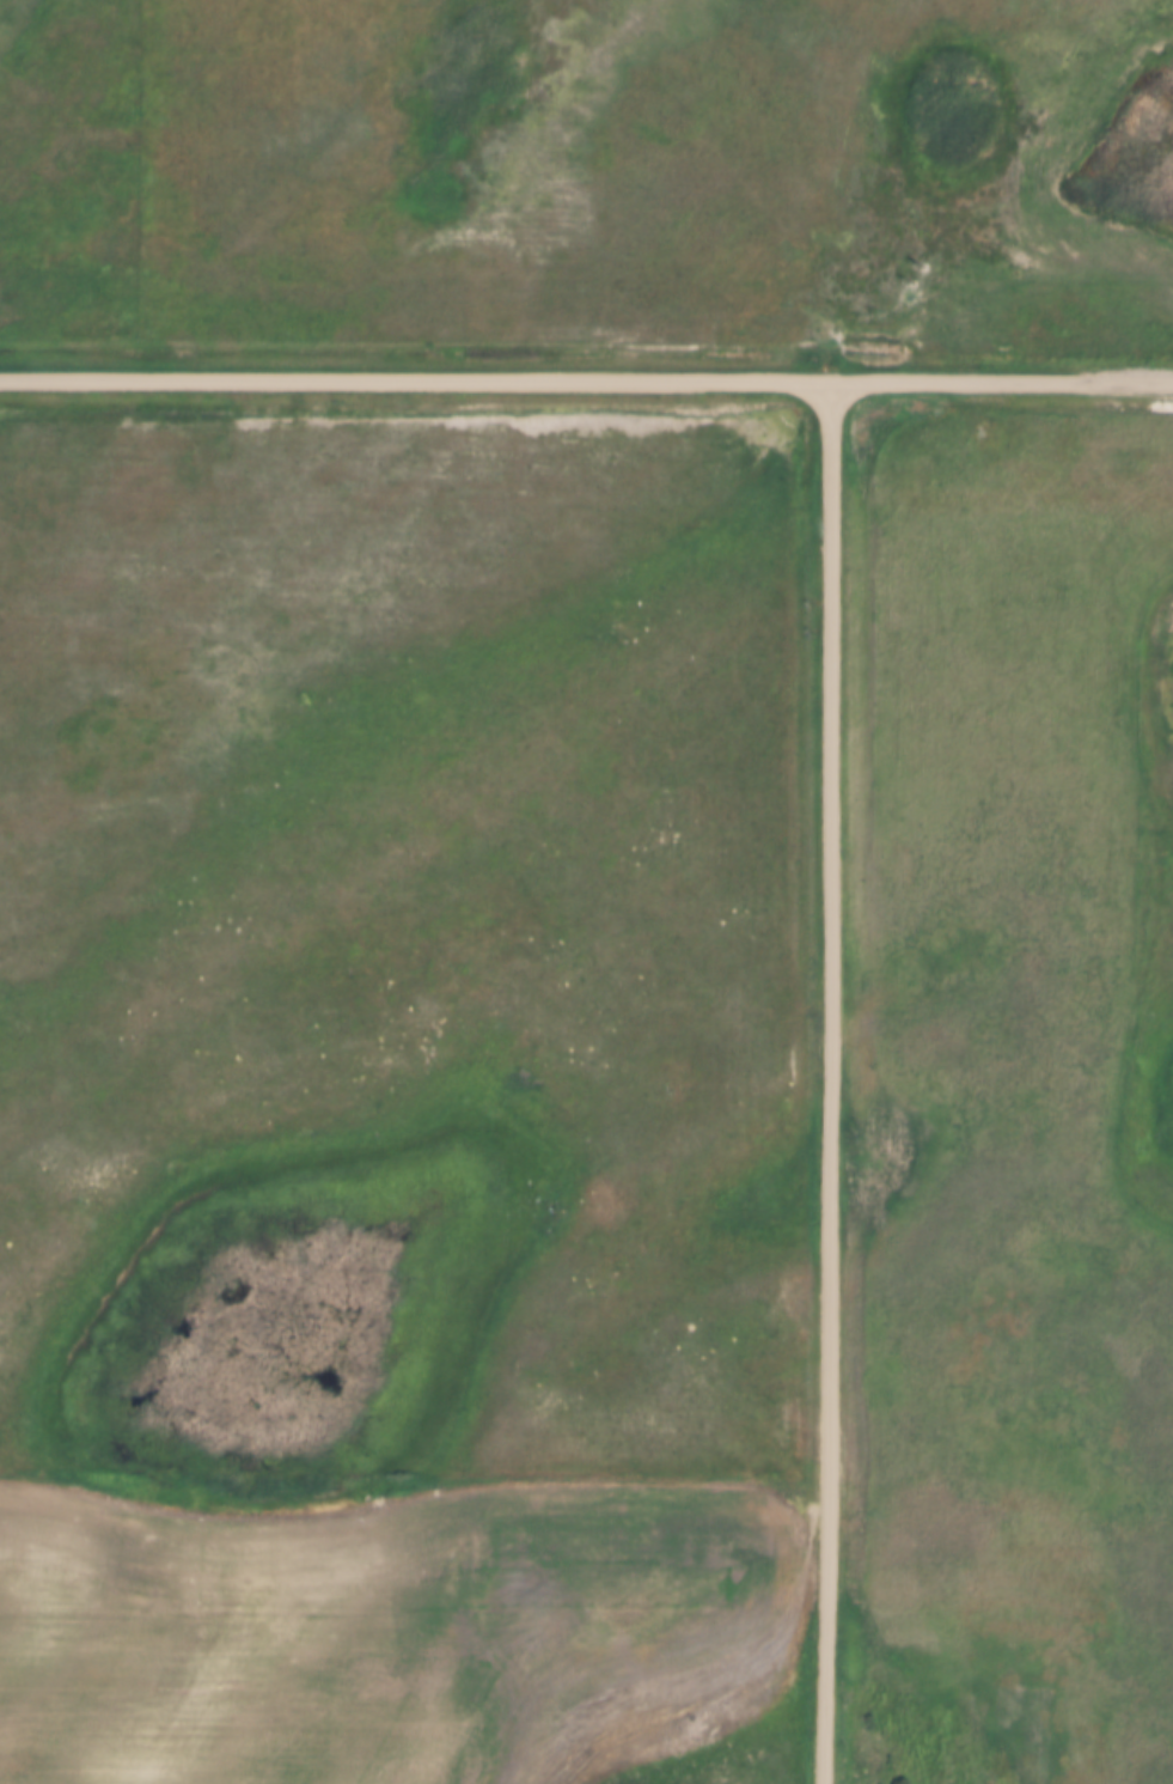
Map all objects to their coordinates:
road: (586, 379)
road: (830, 1082)

